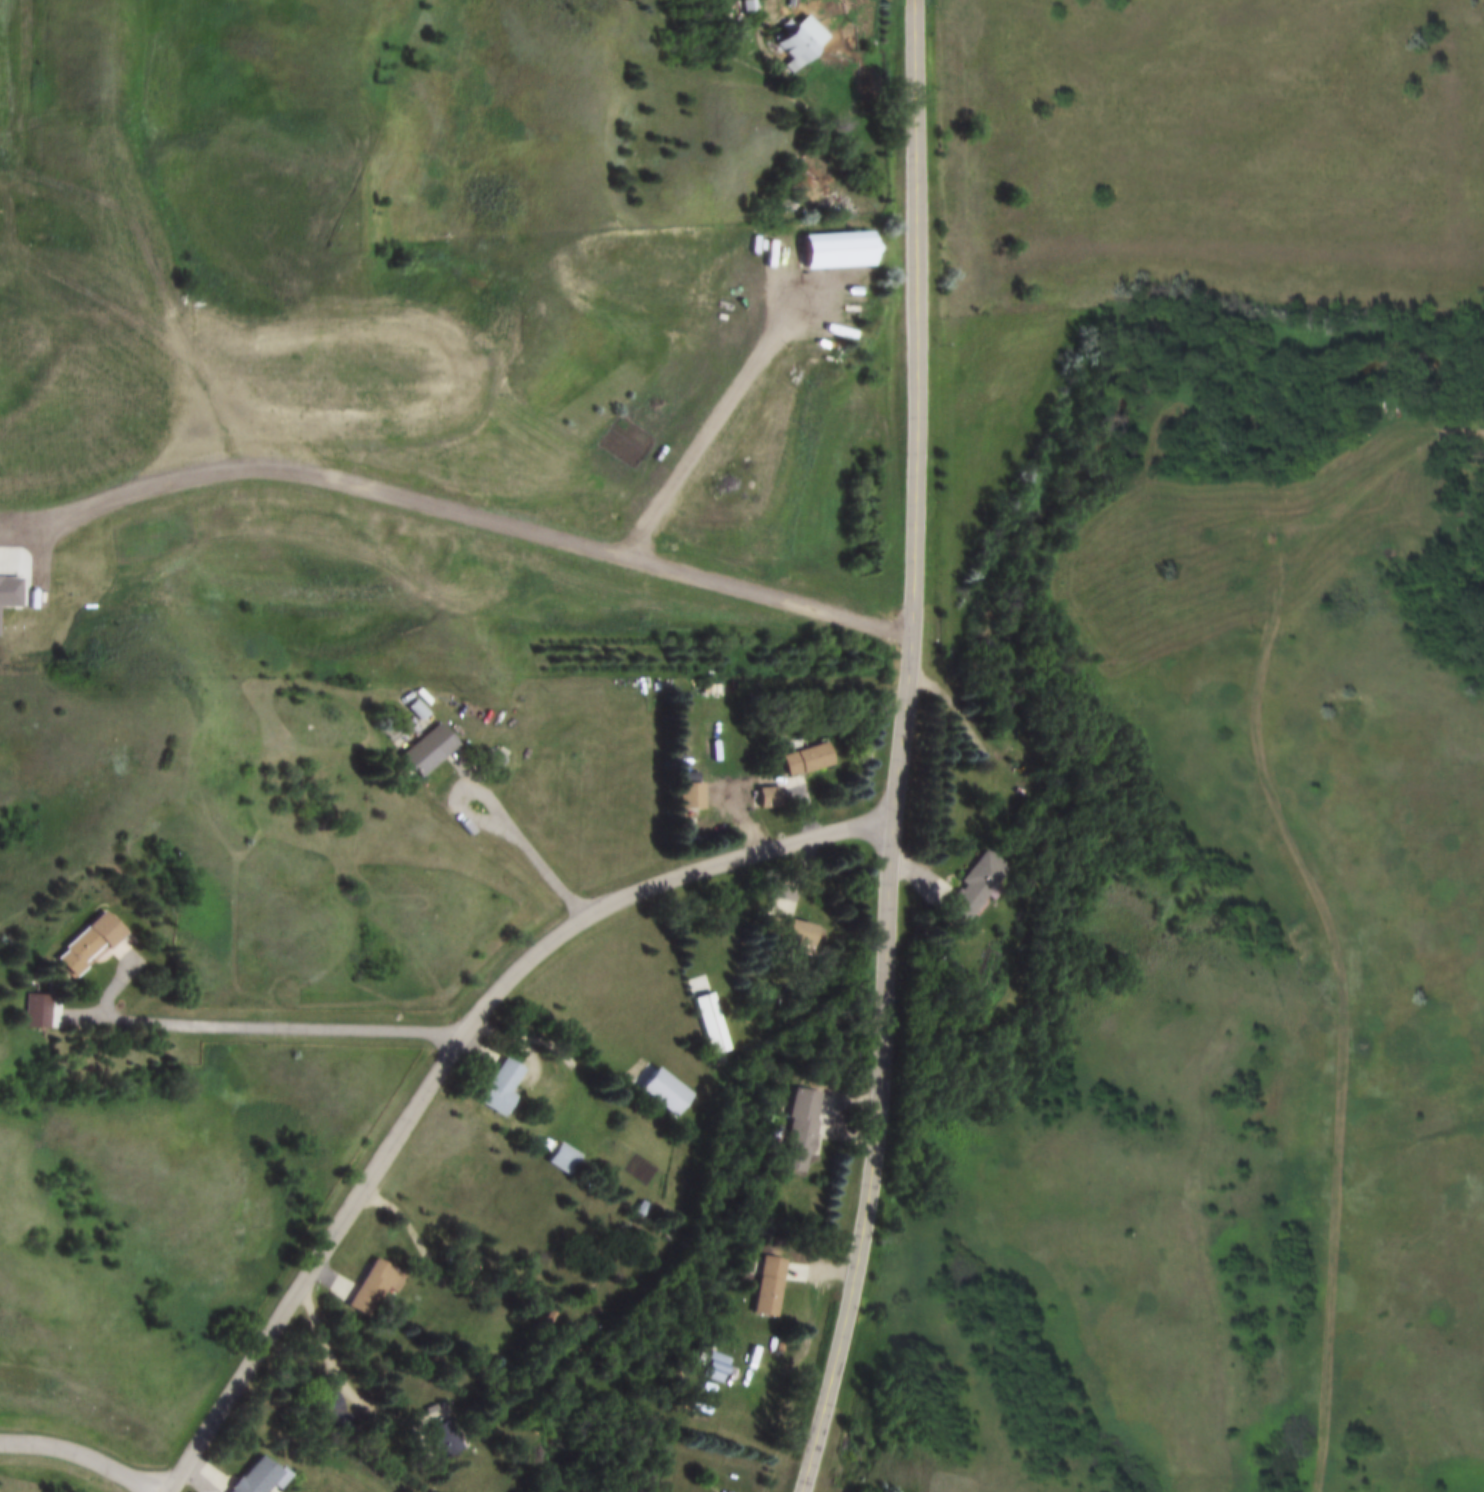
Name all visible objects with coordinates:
building: (753, 6)
building: (803, 49)
road: (914, 84)
building: (853, 250)
road: (1448, 425)
road: (334, 486)
road: (630, 562)
building: (412, 720)
building: (436, 751)
building: (811, 761)
building: (696, 798)
building: (775, 799)
road: (888, 833)
road: (517, 840)
building: (969, 887)
building: (87, 952)
building: (718, 1025)
road: (284, 1029)
road: (450, 1057)
building: (510, 1089)
building: (803, 1132)
building: (569, 1160)
building: (767, 1287)
building: (380, 1288)
building: (712, 1368)
building: (435, 1413)
building: (450, 1440)
road: (81, 1452)

